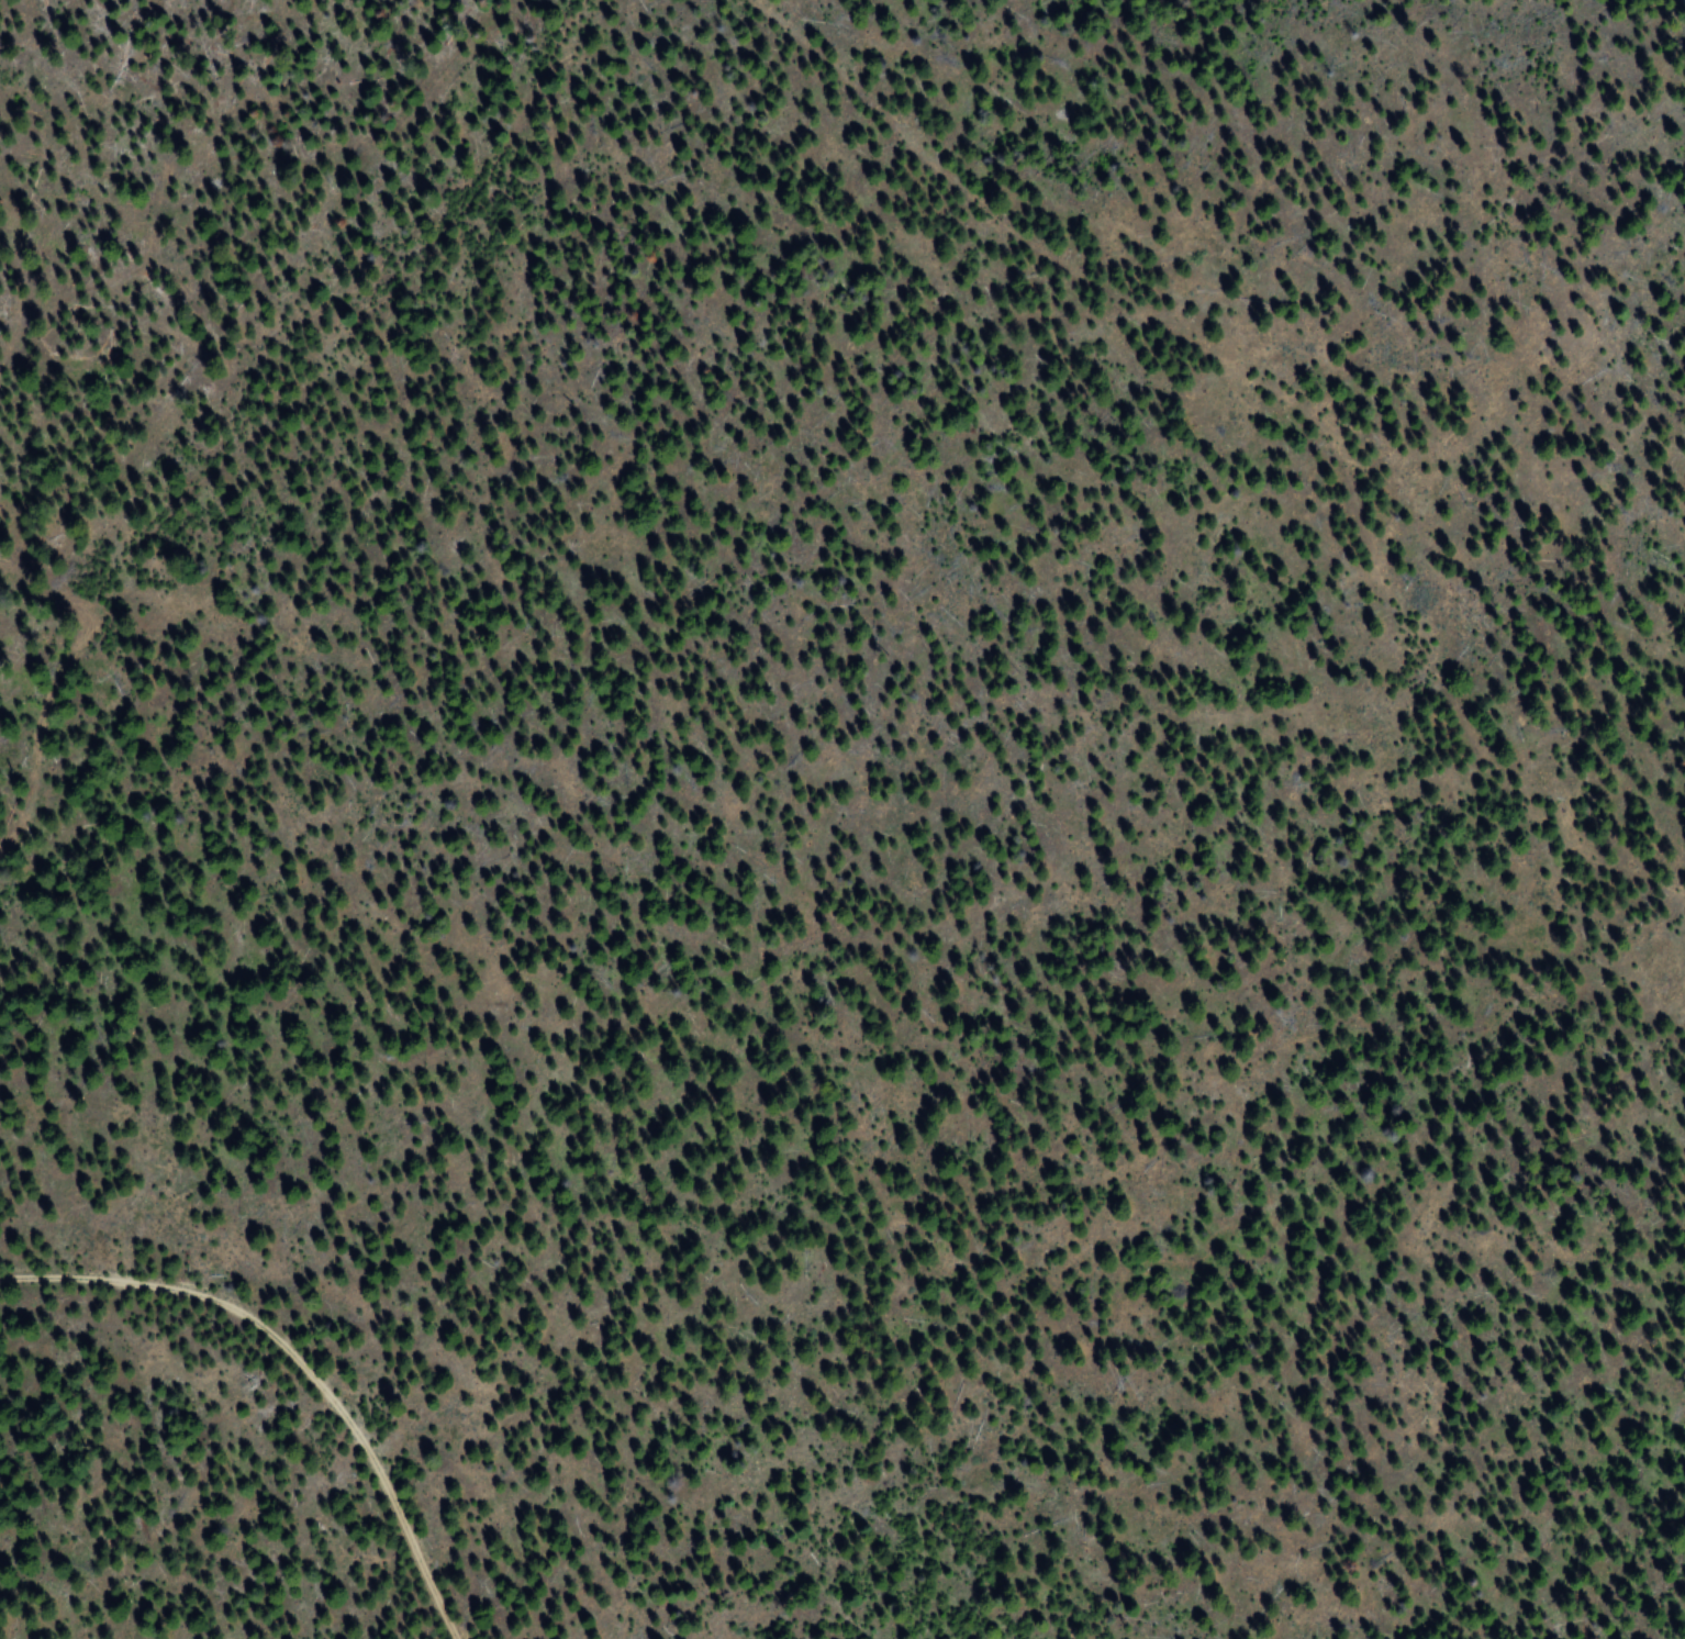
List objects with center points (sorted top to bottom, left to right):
road: (275, 1373)

